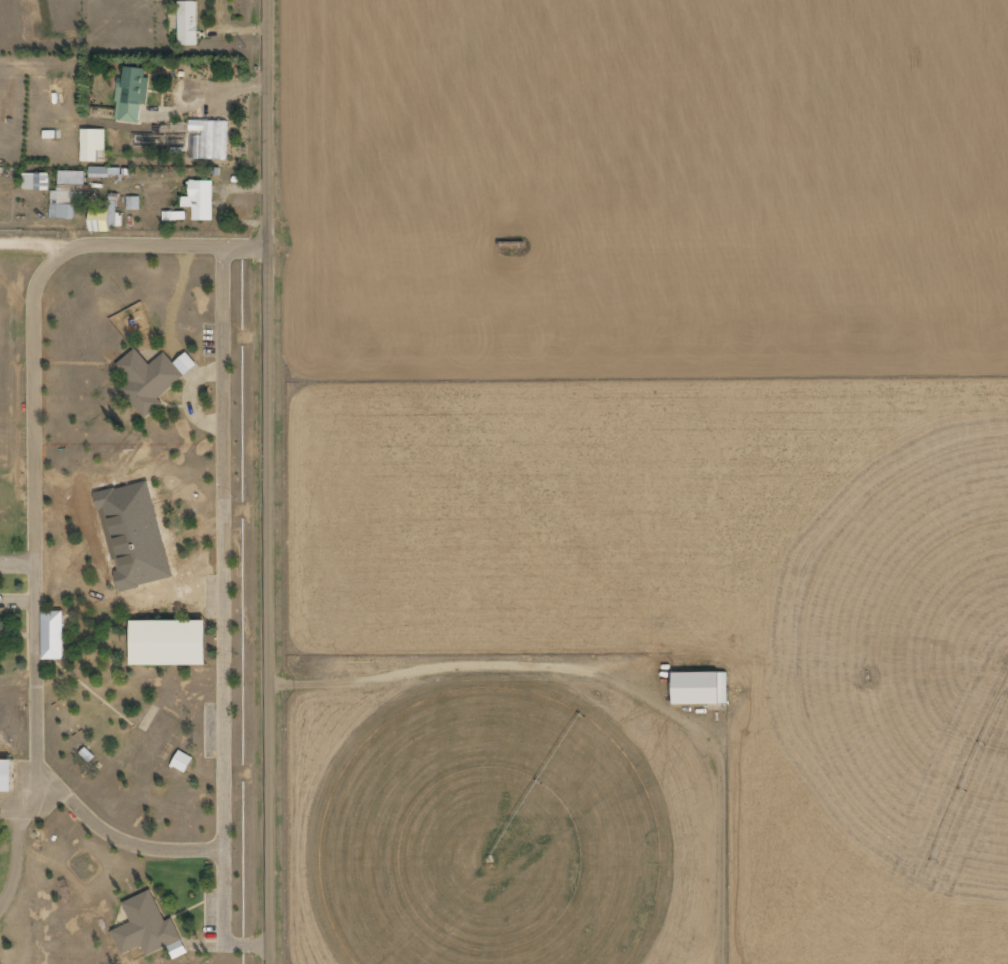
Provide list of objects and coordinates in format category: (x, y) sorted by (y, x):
building: (189, 23)
building: (133, 95)
building: (93, 139)
building: (213, 139)
building: (105, 171)
building: (73, 177)
building: (37, 181)
building: (201, 200)
building: (134, 203)
building: (64, 211)
building: (106, 217)
road: (134, 232)
building: (186, 363)
building: (149, 379)
road: (269, 482)
building: (54, 635)
building: (172, 642)
building: (702, 687)
building: (183, 761)
building: (8, 775)
building: (149, 928)

